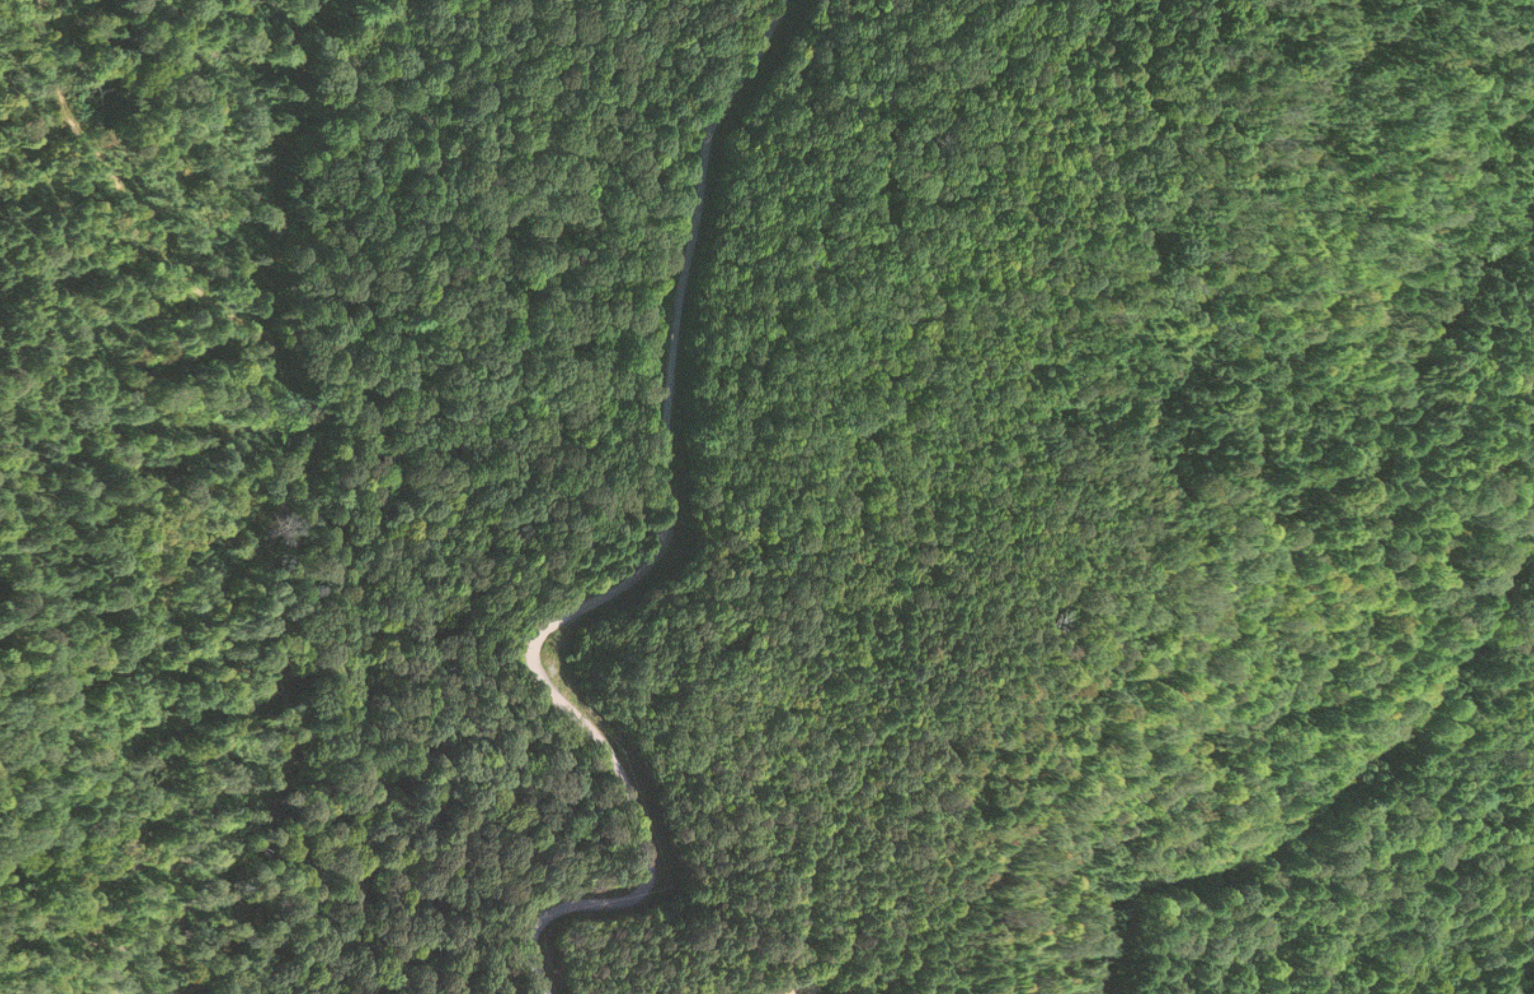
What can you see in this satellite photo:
road: (628, 580)

